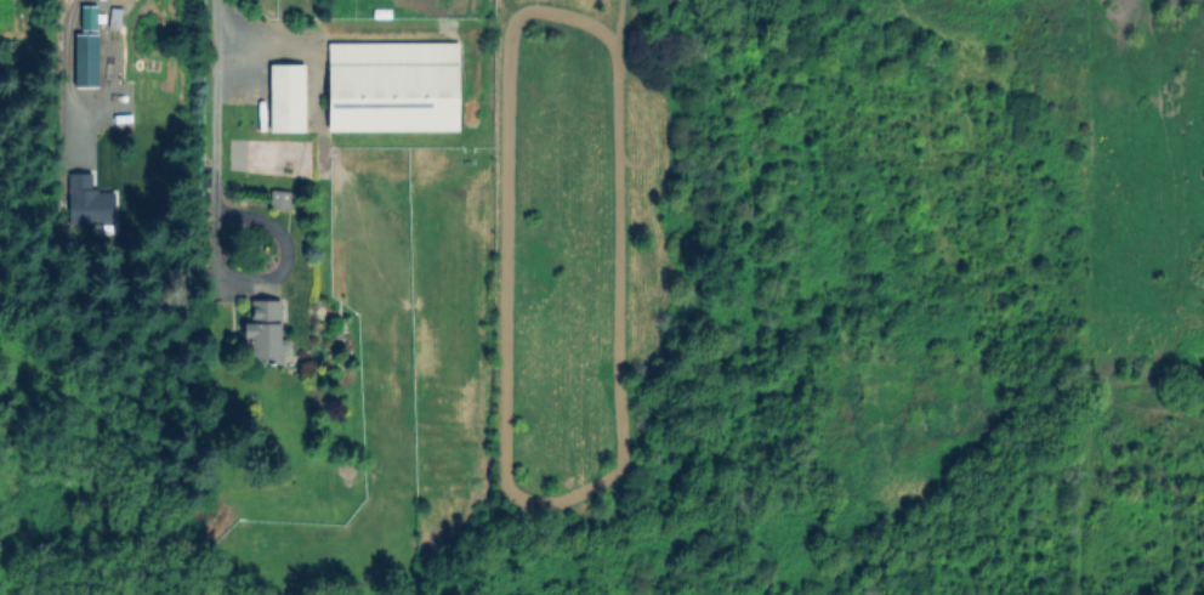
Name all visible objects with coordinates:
building: (86, 17)
building: (84, 58)
building: (393, 87)
building: (289, 98)
road: (216, 159)
building: (86, 200)
building: (282, 202)
building: (267, 334)

